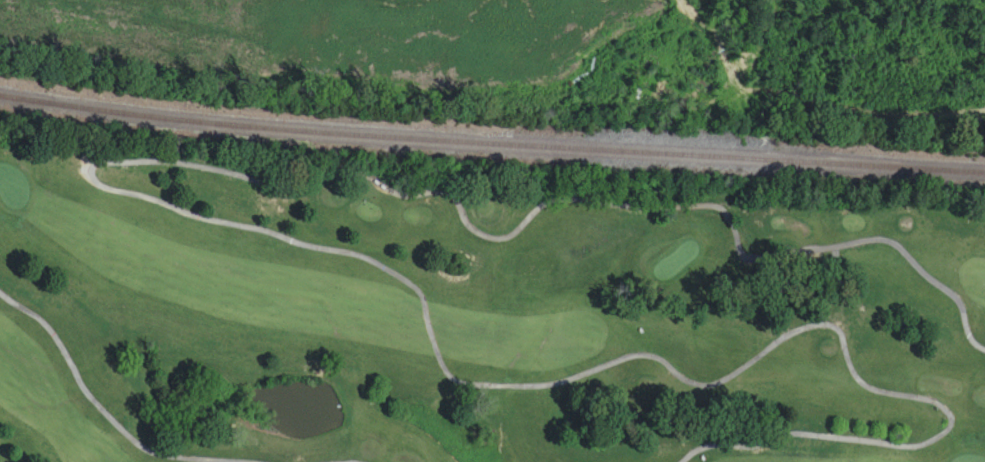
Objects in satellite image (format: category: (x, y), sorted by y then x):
railway: (491, 130)
road: (838, 245)
road: (415, 287)
road: (100, 406)

